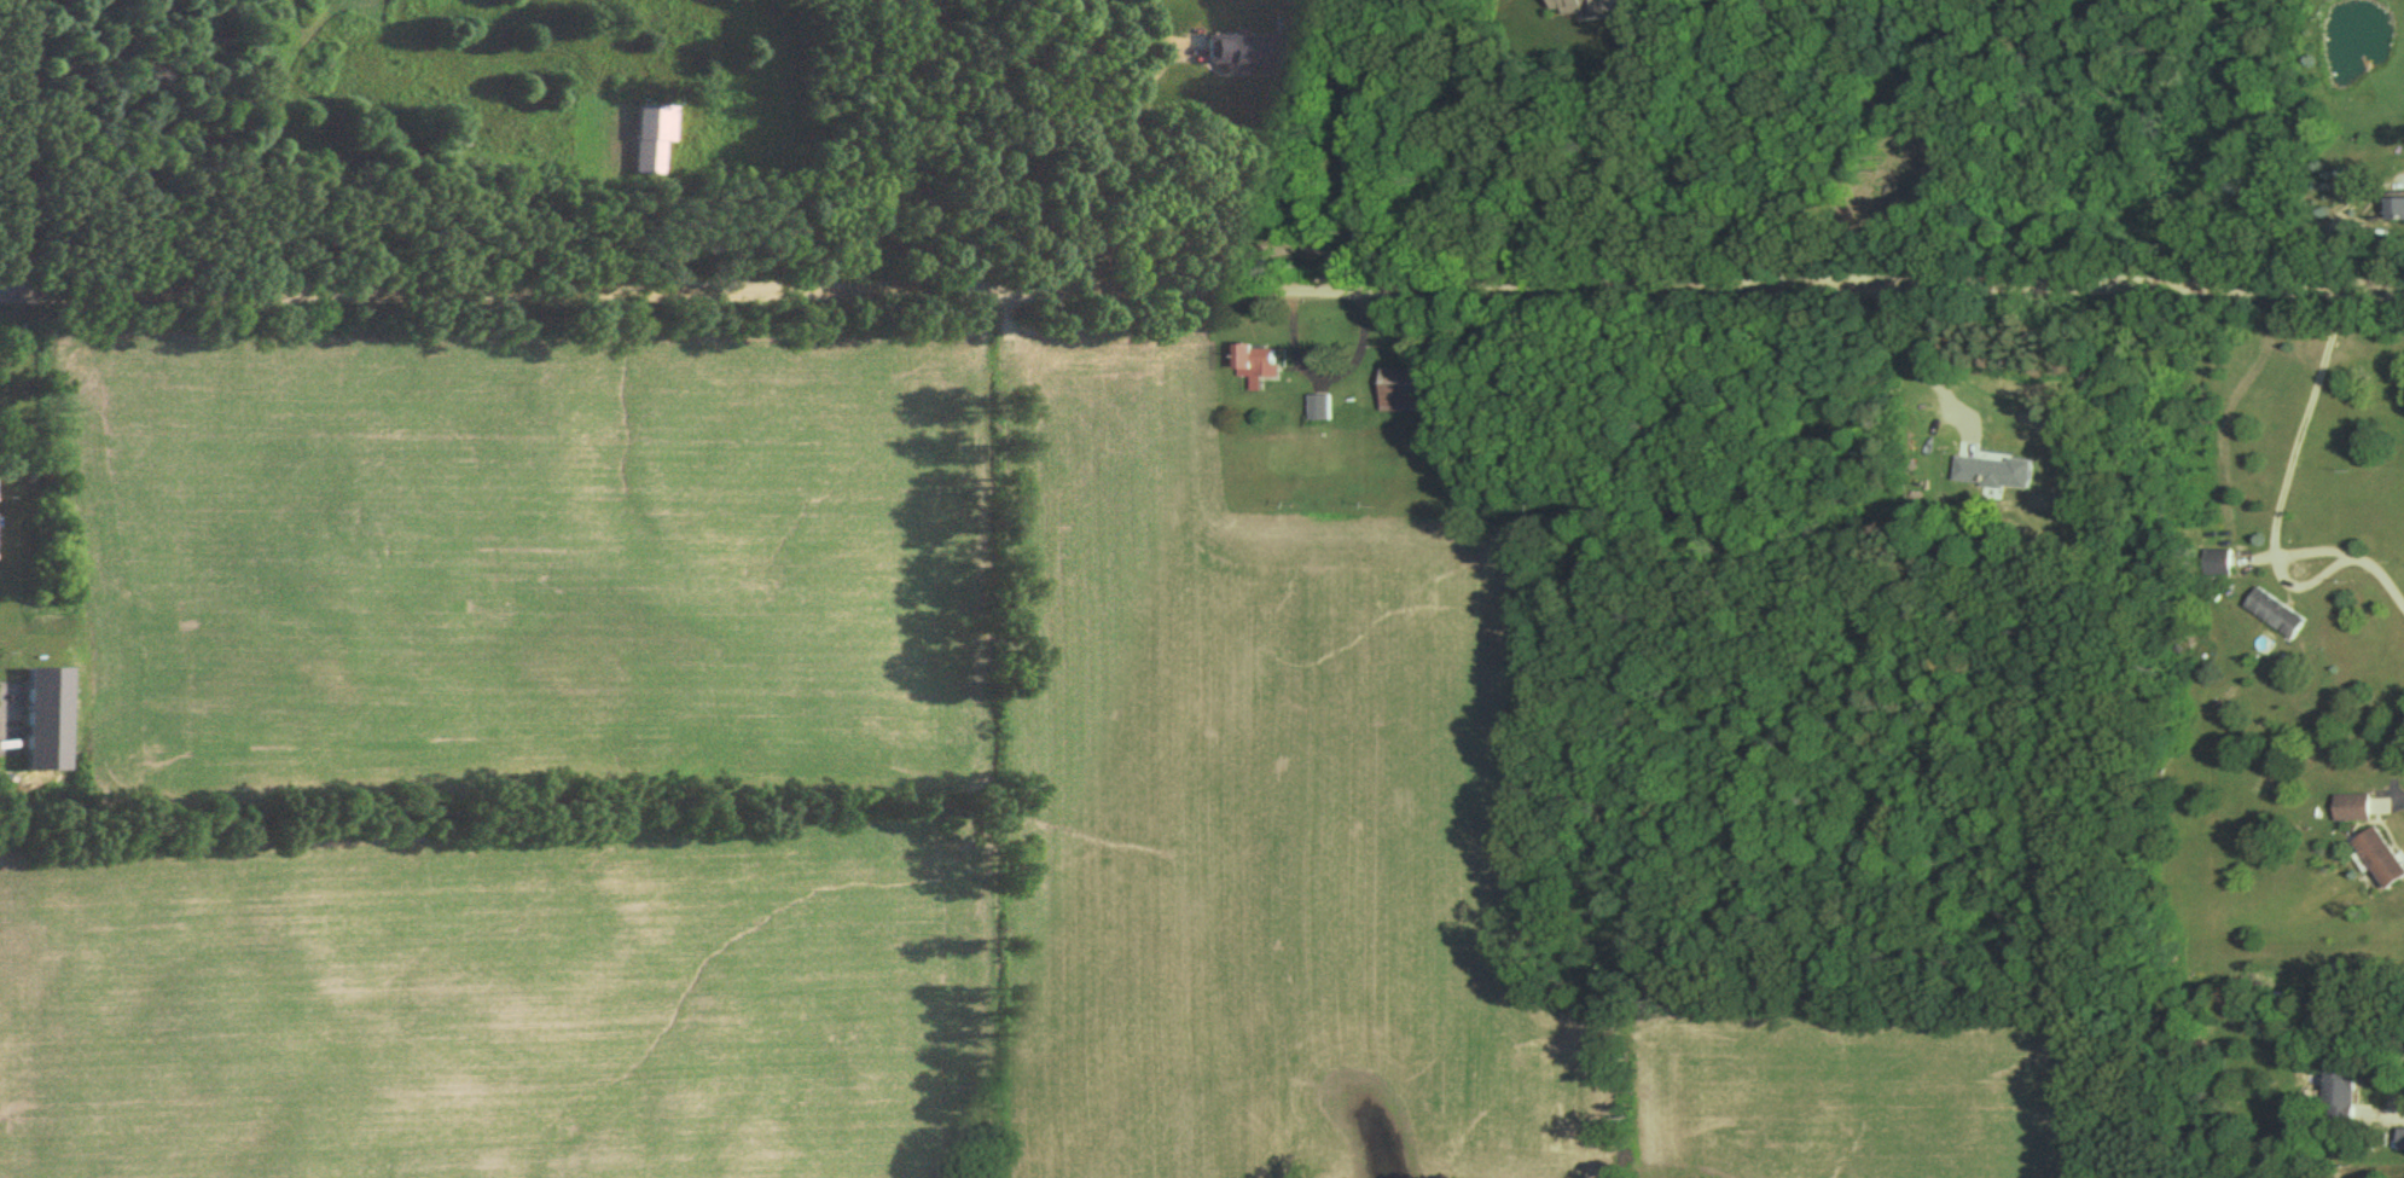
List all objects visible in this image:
road: (2336, 211)
building: (2394, 211)
road: (1202, 302)
road: (1916, 359)
building: (1255, 369)
road: (1326, 378)
building: (1410, 394)
building: (1318, 412)
road: (2319, 420)
building: (1994, 477)
building: (2217, 568)
road: (2282, 575)
road: (2382, 581)
building: (2274, 619)
building: (41, 724)
building: (2350, 812)
building: (2377, 861)
building: (2338, 1102)
building: (2400, 1144)

